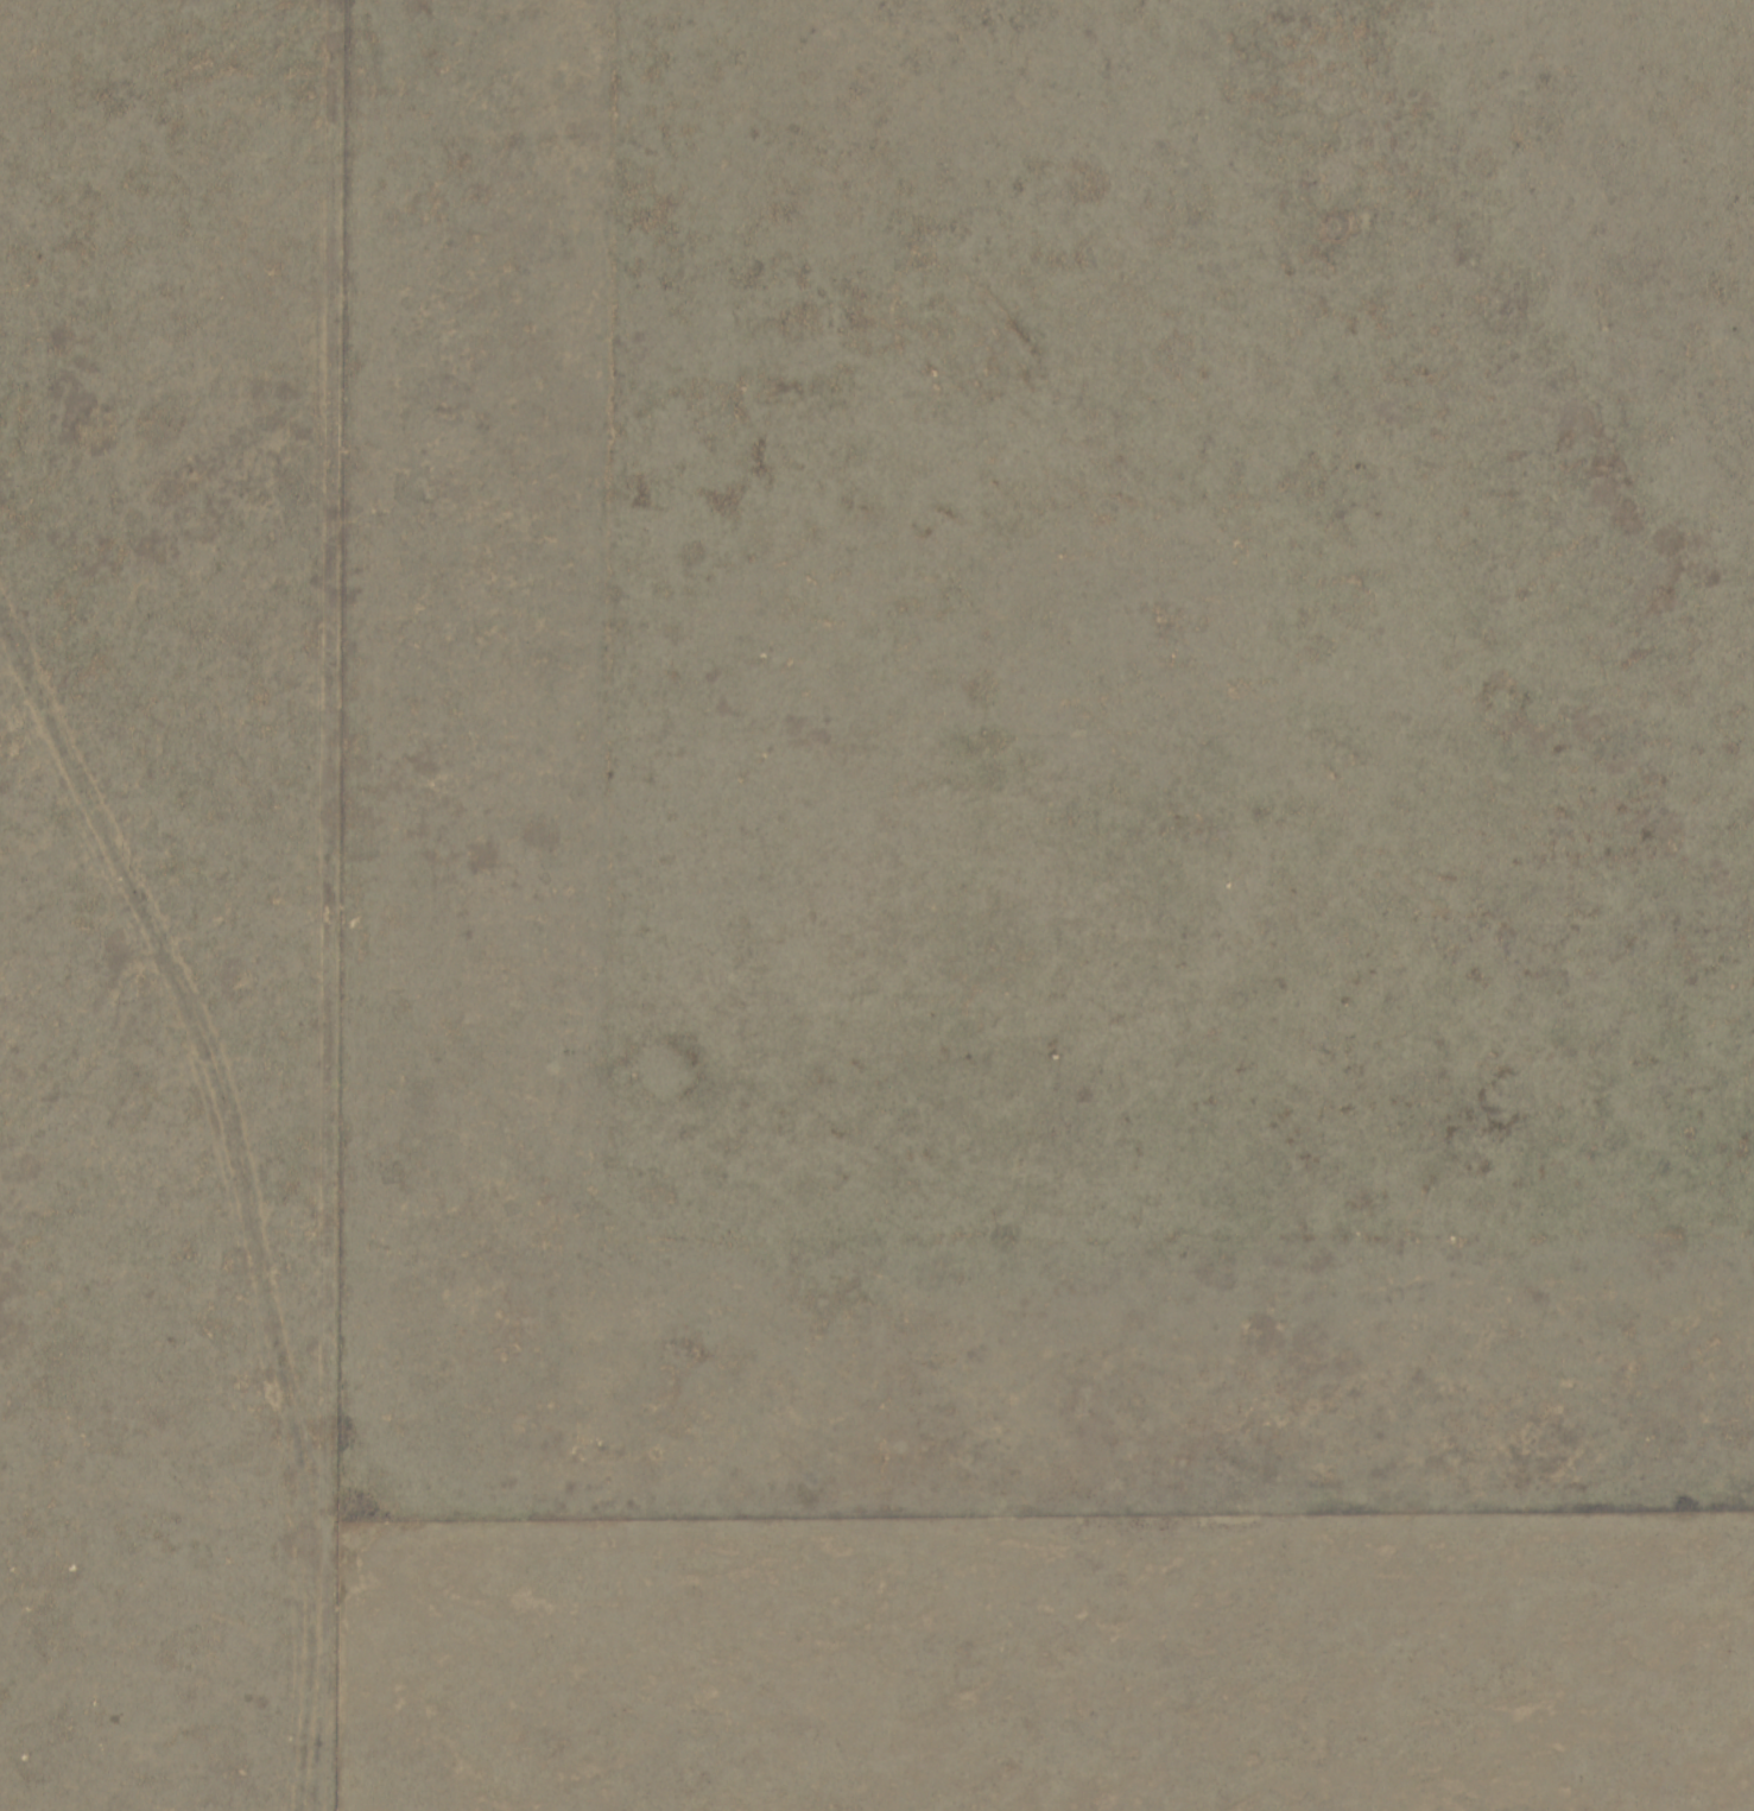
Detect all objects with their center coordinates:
road: (299, 905)

